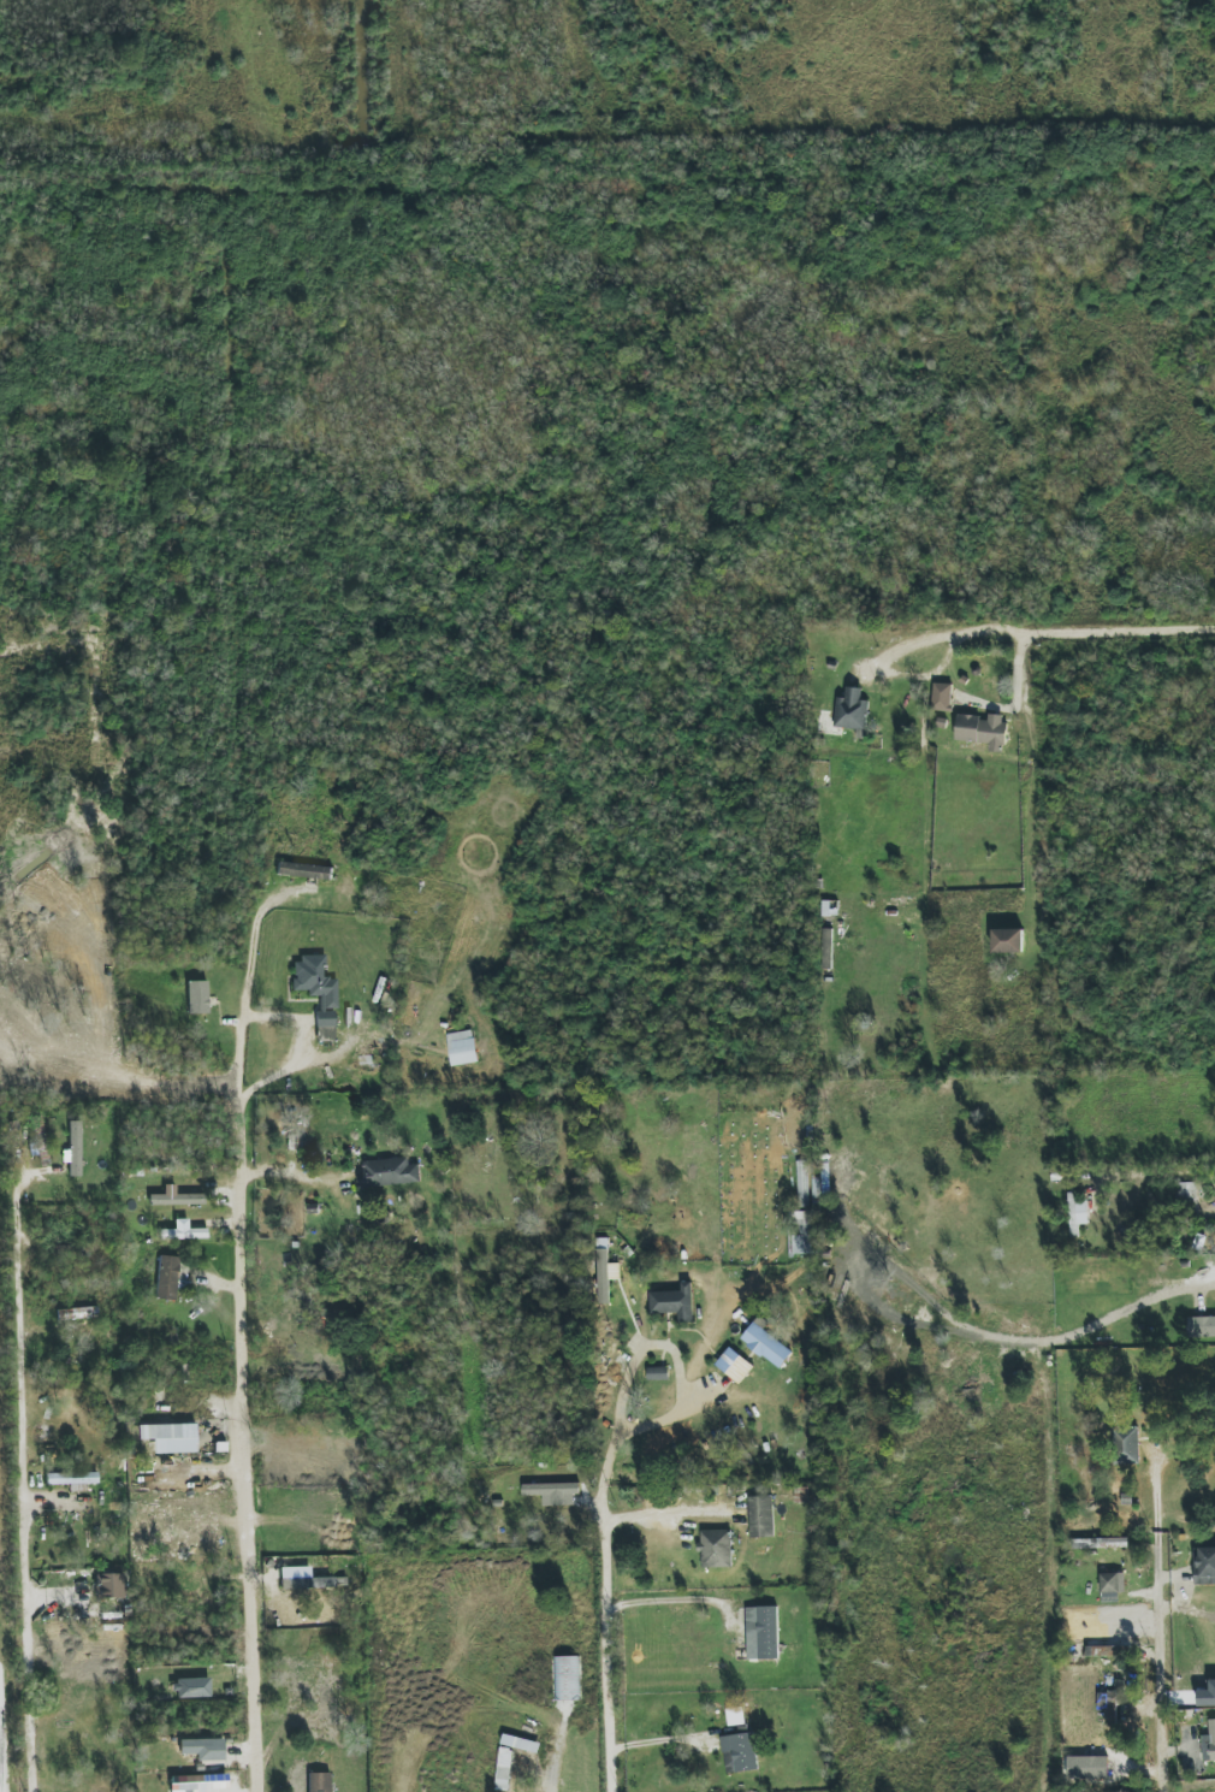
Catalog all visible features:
road: (1059, 634)
building: (942, 697)
building: (852, 710)
building: (983, 731)
road: (526, 860)
building: (304, 870)
building: (829, 909)
building: (1008, 940)
building: (825, 948)
road: (247, 983)
building: (318, 990)
building: (197, 996)
road: (298, 1046)
building: (462, 1048)
road: (604, 1087)
building: (75, 1148)
building: (390, 1172)
building: (174, 1197)
building: (1186, 1197)
building: (1077, 1214)
building: (183, 1231)
building: (802, 1234)
building: (603, 1271)
building: (167, 1278)
road: (1193, 1282)
building: (675, 1302)
building: (77, 1313)
building: (1202, 1326)
building: (765, 1343)
building: (734, 1365)
building: (658, 1373)
road: (681, 1374)
building: (170, 1437)
road: (245, 1445)
building: (1126, 1445)
road: (23, 1468)
building: (72, 1479)
building: (553, 1492)
building: (761, 1516)
building: (1100, 1543)
building: (716, 1549)
building: (1204, 1566)
road: (1056, 1580)
building: (307, 1583)
building: (1113, 1583)
building: (111, 1585)
road: (604, 1591)
road: (670, 1599)
building: (761, 1633)
road: (1172, 1657)
building: (1207, 1693)
building: (1113, 1699)
building: (521, 1743)
building: (1209, 1743)
building: (201, 1746)
building: (740, 1752)
road: (1, 1753)
building: (505, 1760)
road: (550, 1780)
building: (319, 1782)
building: (200, 1784)

